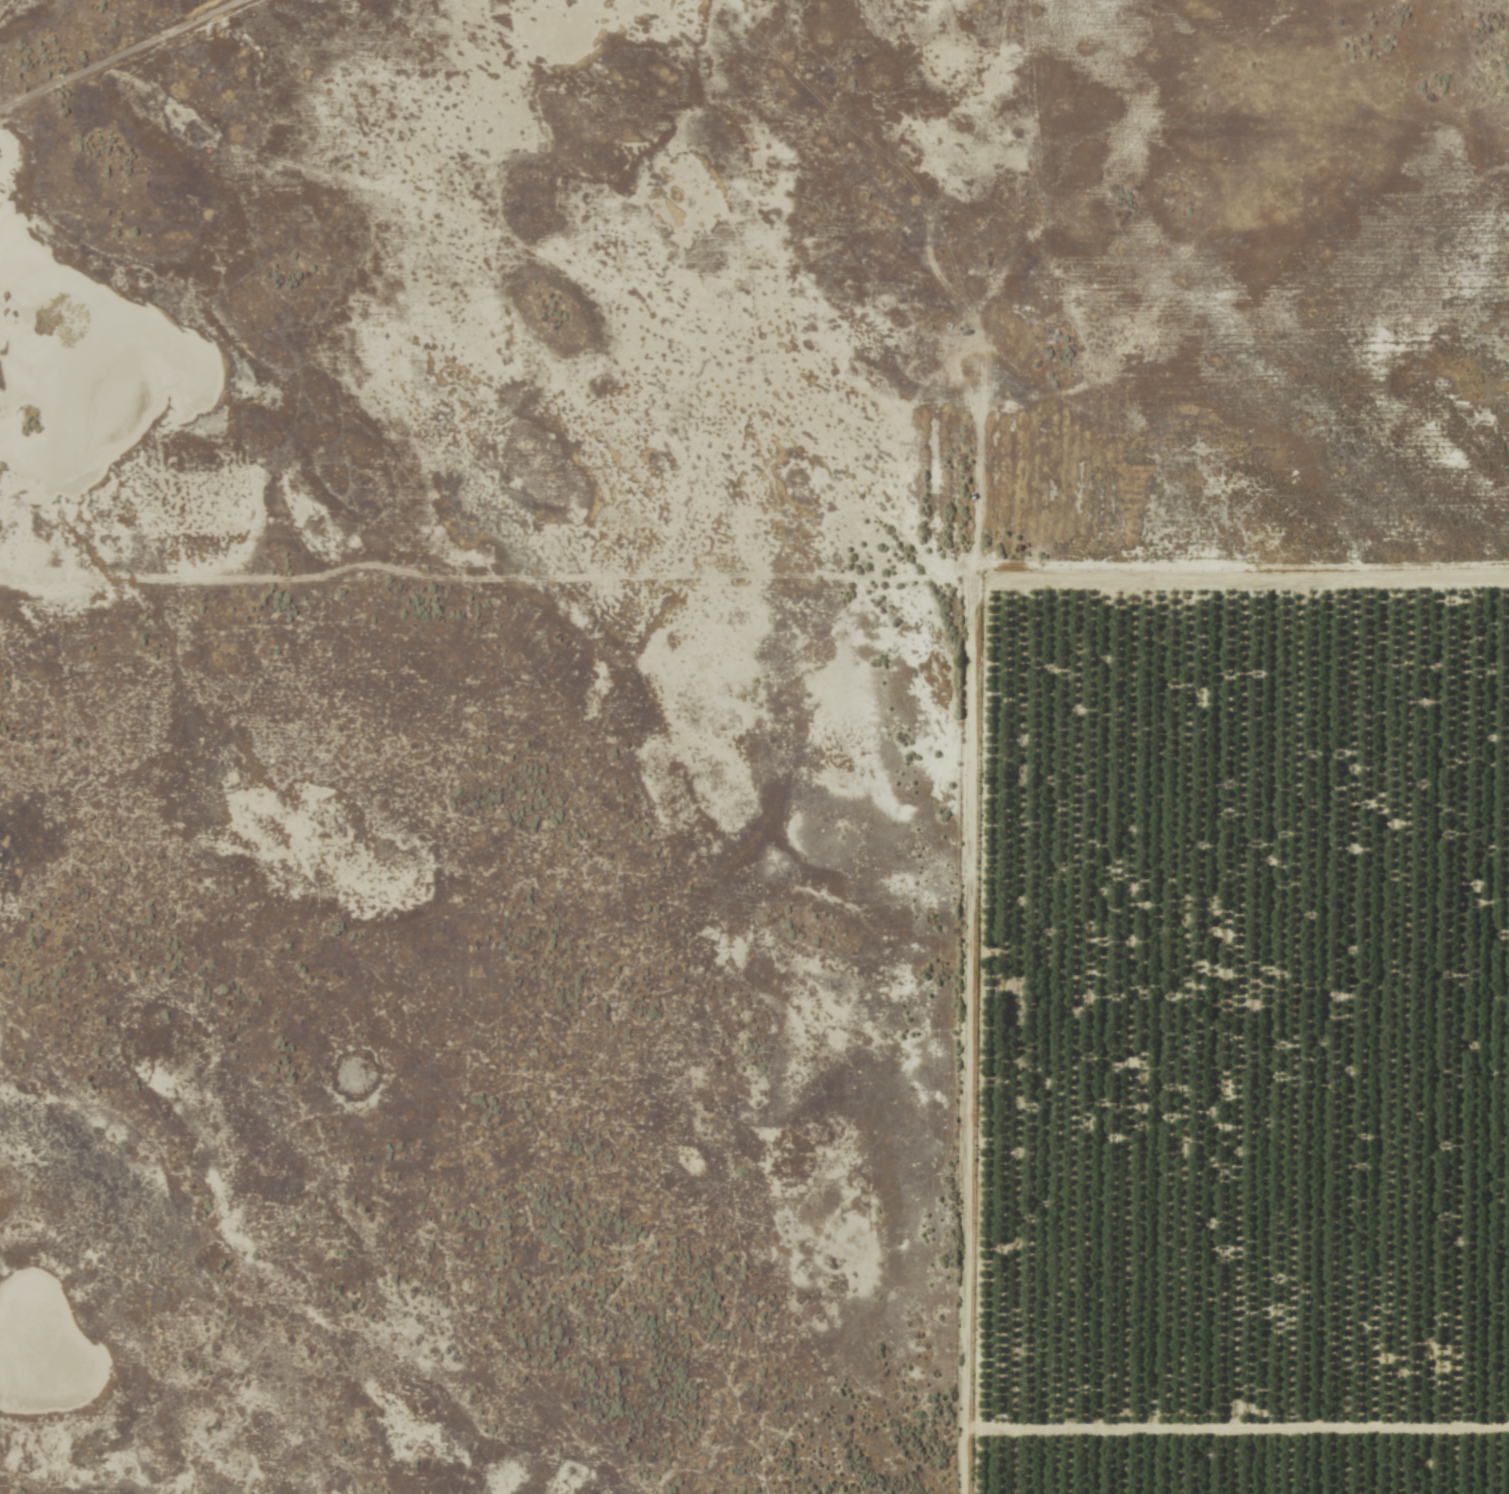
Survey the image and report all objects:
road: (144, 66)

